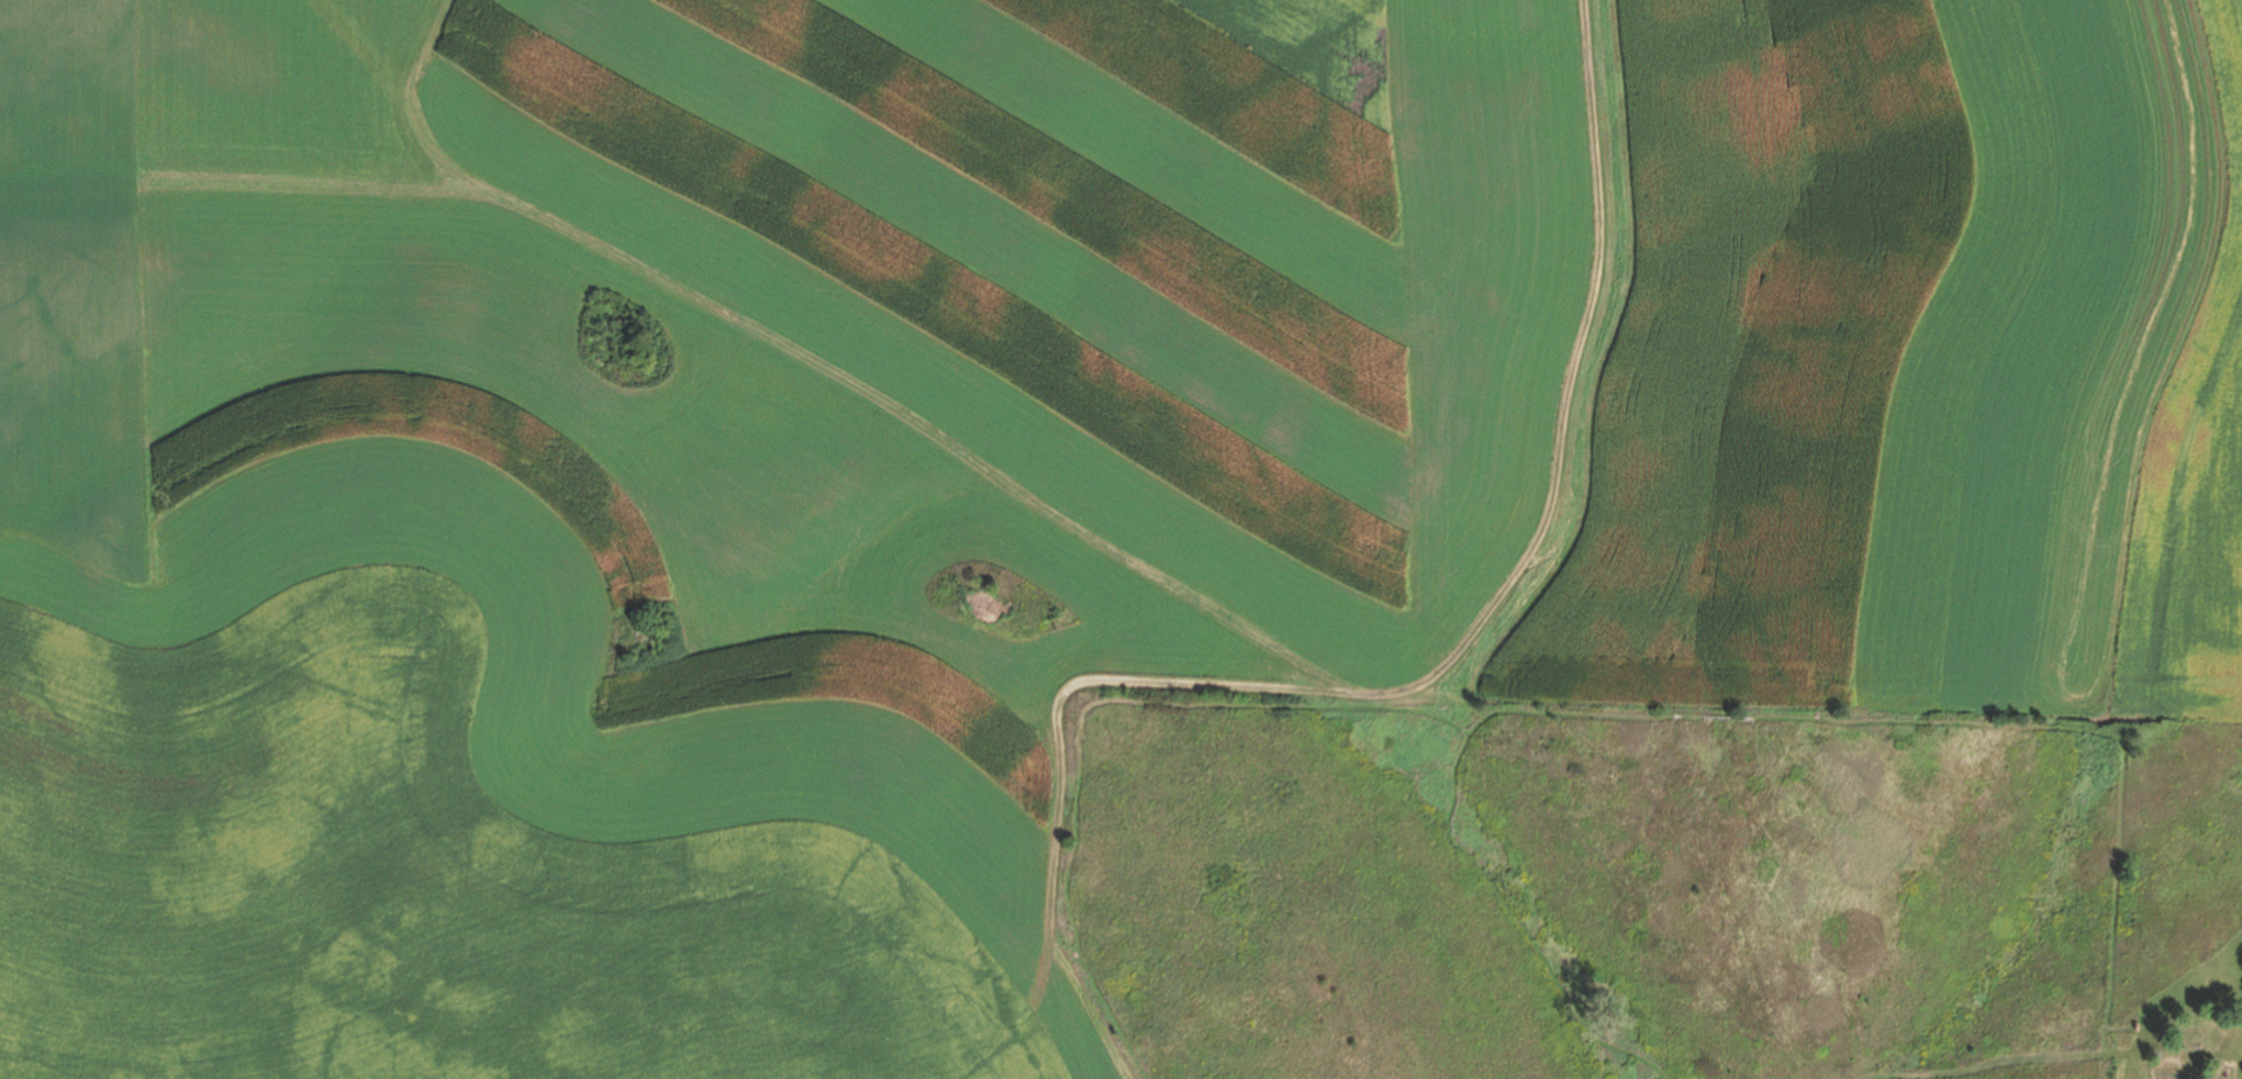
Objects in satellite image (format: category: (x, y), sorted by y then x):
road: (1470, 636)

